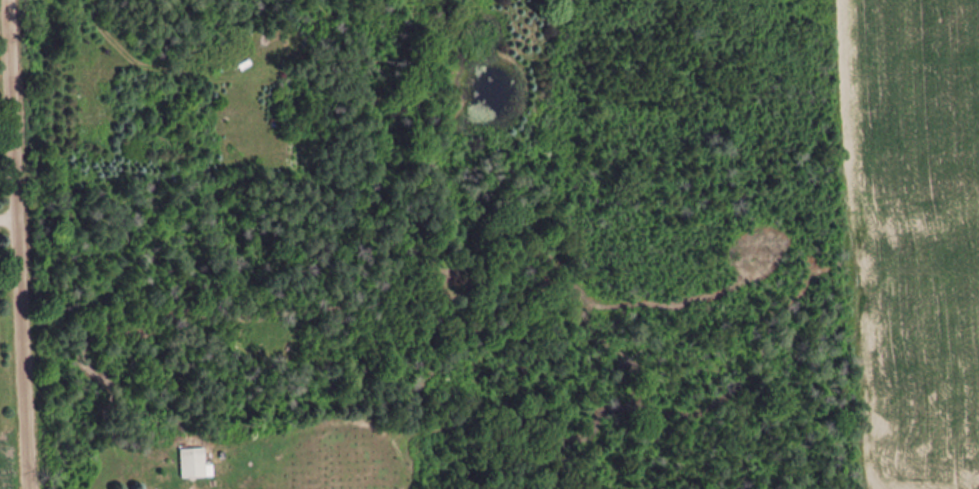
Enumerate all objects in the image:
road: (18, 244)
building: (195, 464)

